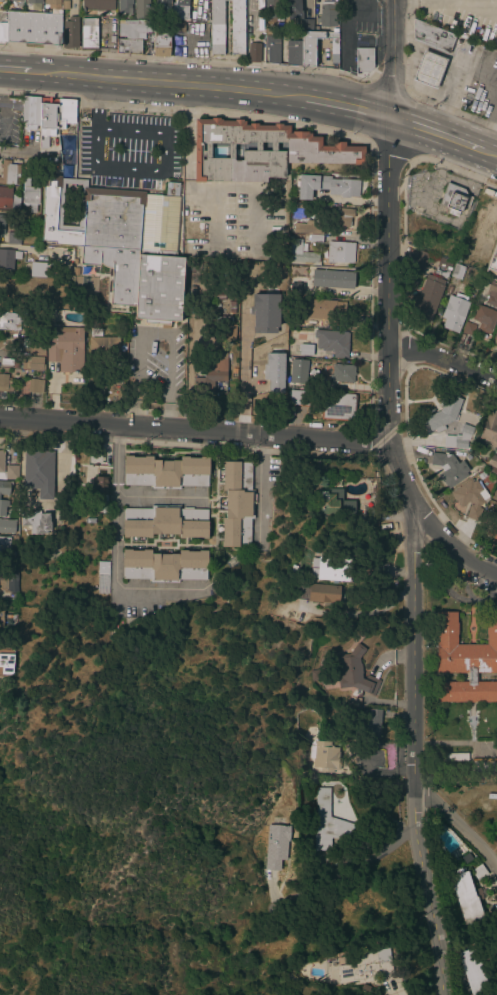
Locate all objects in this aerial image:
building: (0, 0)
building: (33, 1)
building: (51, 2)
road: (405, 3)
road: (457, 3)
building: (65, 4)
building: (161, 5)
building: (100, 6)
building: (124, 6)
building: (271, 8)
building: (292, 8)
building: (143, 10)
building: (180, 10)
building: (329, 13)
parking lot: (359, 16)
parking lot: (462, 17)
building: (278, 24)
building: (306, 24)
parking lot: (2, 25)
building: (178, 27)
building: (216, 27)
building: (237, 27)
building: (33, 29)
building: (70, 32)
building: (88, 34)
building: (131, 35)
building: (432, 37)
building: (161, 44)
building: (272, 46)
building: (293, 49)
building: (307, 49)
building: (253, 53)
building: (364, 59)
road: (391, 59)
road: (18, 69)
building: (428, 69)
gas station: (428, 69)
road: (65, 74)
road: (1, 82)
road: (195, 85)
road: (98, 102)
road: (343, 106)
building: (30, 112)
building: (65, 113)
building: (48, 116)
road: (1, 117)
parking lot: (9, 121)
road: (436, 133)
building: (43, 141)
building: (66, 150)
parking lot: (128, 150)
building: (260, 151)
road: (490, 153)
road: (28, 156)
road: (187, 167)
road: (161, 170)
building: (9, 173)
building: (326, 186)
building: (172, 189)
building: (29, 195)
building: (5, 197)
building: (454, 198)
building: (14, 204)
building: (297, 208)
building: (340, 217)
road: (216, 219)
road: (253, 220)
parking lot: (232, 221)
building: (1, 224)
building: (307, 227)
building: (13, 238)
building: (315, 239)
building: (123, 244)
building: (300, 252)
building: (339, 252)
building: (8, 258)
building: (492, 260)
building: (419, 261)
building: (442, 267)
building: (42, 270)
building: (457, 271)
building: (332, 279)
building: (293, 287)
building: (10, 289)
building: (491, 295)
building: (45, 297)
building: (231, 297)
building: (426, 297)
building: (231, 307)
building: (330, 308)
building: (454, 312)
building: (484, 318)
building: (8, 320)
building: (294, 321)
building: (226, 328)
building: (468, 328)
building: (95, 332)
road: (148, 332)
building: (495, 339)
building: (280, 341)
building: (332, 342)
building: (37, 348)
building: (65, 348)
building: (259, 349)
building: (303, 349)
building: (104, 350)
road: (441, 356)
building: (253, 360)
building: (2, 361)
building: (32, 363)
road: (240, 363)
parking lot: (155, 364)
building: (15, 365)
road: (168, 367)
road: (135, 370)
building: (298, 371)
building: (342, 373)
building: (211, 375)
building: (5, 383)
building: (34, 385)
building: (260, 385)
building: (299, 398)
building: (338, 407)
road: (256, 409)
road: (132, 413)
building: (444, 414)
road: (166, 417)
building: (489, 428)
road: (196, 435)
building: (462, 438)
building: (1, 462)
building: (492, 464)
building: (449, 469)
building: (38, 470)
building: (11, 472)
building: (165, 472)
building: (4, 487)
building: (99, 493)
road: (159, 496)
road: (261, 496)
building: (470, 498)
building: (333, 503)
building: (237, 504)
building: (3, 507)
building: (370, 513)
building: (35, 522)
building: (164, 522)
building: (7, 526)
building: (493, 531)
building: (14, 539)
building: (4, 544)
road: (454, 548)
road: (114, 551)
road: (418, 554)
building: (233, 560)
building: (164, 565)
building: (292, 569)
building: (330, 569)
building: (381, 570)
building: (102, 577)
building: (11, 579)
building: (2, 583)
building: (317, 592)
road: (357, 614)
building: (6, 661)
building: (465, 661)
building: (353, 672)
building: (315, 675)
building: (368, 725)
building: (352, 750)
building: (325, 757)
building: (451, 757)
building: (368, 761)
building: (484, 765)
building: (451, 781)
building: (327, 822)
road: (461, 830)
building: (275, 846)
road: (350, 865)
building: (478, 872)
building: (465, 897)
building: (364, 968)
building: (473, 972)

